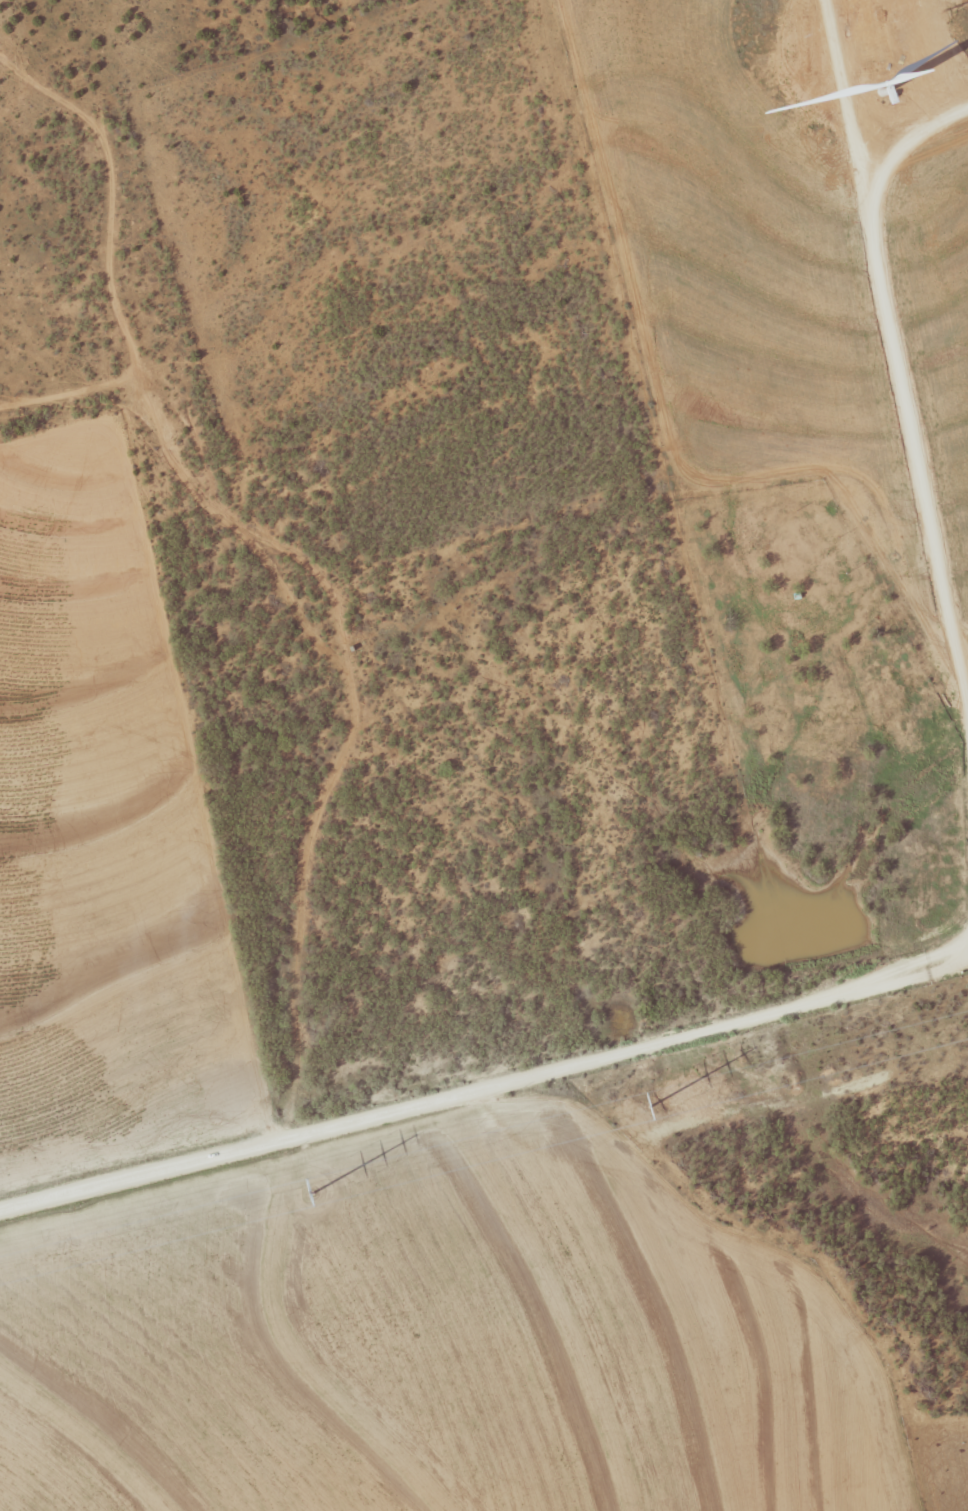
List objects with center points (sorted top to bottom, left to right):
wind turbine: (892, 86)
road: (899, 331)
road: (695, 474)
road: (959, 602)
road: (484, 1090)
power tower: (651, 1106)
power tower: (313, 1193)

